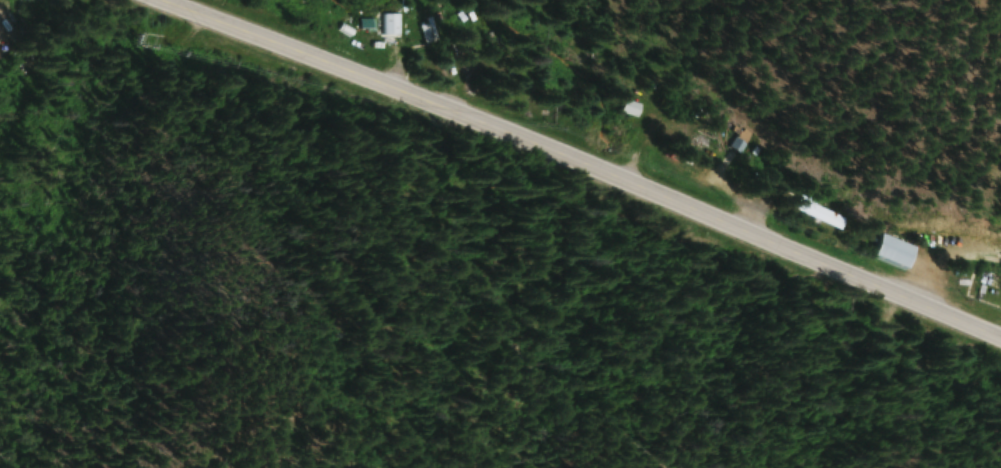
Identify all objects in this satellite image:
building: (428, 31)
building: (631, 109)
road: (578, 164)
building: (821, 213)
building: (897, 252)

